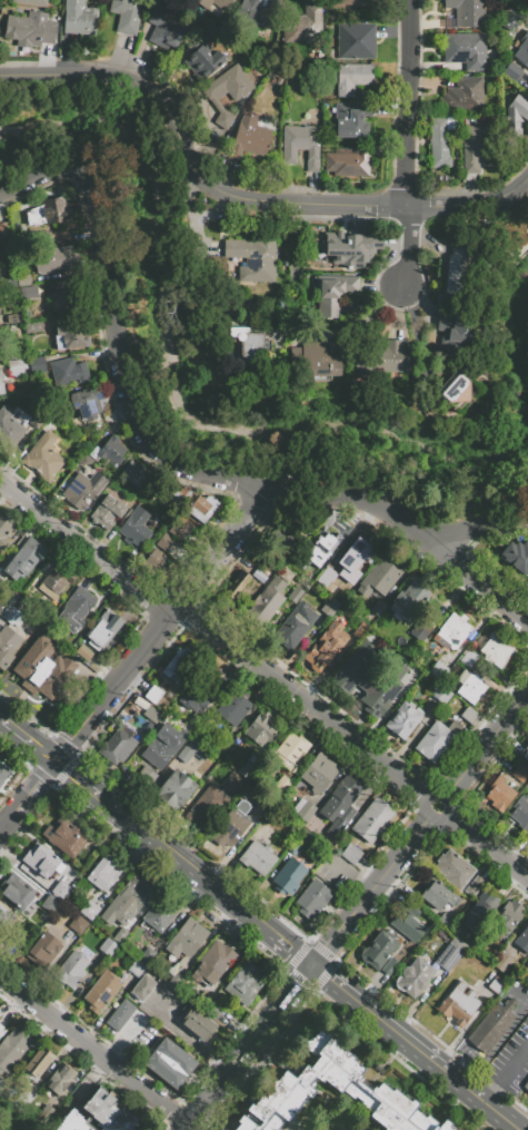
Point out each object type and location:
building: (31, 2)
building: (215, 3)
building: (343, 3)
building: (466, 12)
building: (126, 16)
building: (251, 16)
building: (79, 18)
building: (303, 23)
building: (510, 23)
building: (165, 29)
building: (30, 30)
building: (356, 40)
building: (465, 50)
building: (201, 59)
building: (525, 61)
building: (512, 73)
building: (352, 78)
building: (228, 91)
building: (462, 95)
road: (407, 104)
building: (516, 115)
building: (352, 119)
building: (250, 137)
building: (438, 143)
building: (301, 145)
building: (474, 147)
building: (349, 163)
road: (237, 200)
building: (48, 213)
building: (3, 232)
building: (338, 245)
road: (408, 246)
building: (365, 247)
building: (252, 258)
building: (58, 261)
building: (459, 273)
building: (28, 292)
building: (331, 293)
building: (60, 301)
building: (1, 306)
building: (348, 308)
building: (17, 318)
building: (32, 326)
building: (452, 330)
building: (72, 335)
building: (249, 342)
building: (379, 360)
building: (313, 361)
building: (37, 364)
building: (14, 367)
building: (68, 372)
building: (1, 384)
building: (452, 389)
building: (87, 404)
building: (37, 419)
building: (9, 430)
building: (109, 451)
road: (160, 454)
building: (43, 458)
building: (133, 473)
building: (83, 490)
building: (173, 499)
building: (201, 507)
building: (107, 512)
building: (136, 528)
building: (180, 528)
building: (4, 531)
building: (285, 538)
building: (165, 542)
road: (84, 550)
building: (323, 550)
building: (517, 554)
building: (22, 559)
building: (155, 560)
building: (343, 568)
road: (462, 570)
building: (380, 577)
building: (54, 580)
building: (242, 583)
building: (296, 596)
building: (12, 599)
road: (183, 599)
building: (409, 599)
building: (270, 600)
building: (28, 607)
building: (3, 608)
building: (74, 608)
building: (330, 608)
building: (377, 609)
building: (14, 617)
building: (104, 622)
building: (296, 628)
building: (359, 630)
building: (420, 632)
building: (451, 632)
building: (91, 635)
building: (8, 645)
building: (325, 647)
building: (496, 650)
building: (84, 654)
building: (469, 658)
building: (180, 665)
building: (61, 669)
building: (438, 669)
building: (38, 670)
building: (365, 679)
building: (209, 680)
building: (471, 689)
building: (153, 695)
building: (440, 695)
building: (193, 700)
road: (307, 706)
building: (233, 707)
building: (152, 715)
building: (469, 716)
building: (404, 719)
building: (199, 724)
building: (260, 729)
road: (80, 731)
road: (32, 734)
road: (7, 735)
building: (436, 739)
building: (527, 739)
building: (118, 744)
building: (163, 744)
road: (39, 748)
road: (481, 750)
building: (192, 751)
building: (290, 753)
building: (525, 753)
road: (36, 757)
building: (250, 765)
road: (76, 769)
building: (319, 772)
building: (520, 772)
building: (3, 773)
road: (71, 775)
building: (233, 784)
road: (39, 785)
building: (283, 786)
road: (76, 788)
building: (175, 789)
road: (99, 790)
building: (499, 794)
building: (201, 803)
building: (340, 805)
building: (260, 809)
building: (303, 809)
building: (212, 812)
building: (520, 813)
road: (13, 817)
building: (372, 819)
building: (230, 827)
building: (64, 838)
road: (481, 841)
building: (300, 842)
building: (257, 856)
building: (351, 856)
building: (40, 859)
road: (218, 866)
building: (454, 868)
road: (226, 871)
building: (104, 872)
building: (290, 875)
road: (351, 875)
road: (209, 884)
road: (373, 885)
building: (474, 885)
building: (17, 891)
building: (61, 891)
building: (438, 894)
building: (312, 900)
building: (126, 901)
road: (191, 901)
building: (50, 905)
building: (89, 910)
building: (411, 910)
building: (480, 911)
building: (159, 914)
building: (4, 917)
building: (445, 920)
building: (507, 920)
building: (78, 924)
building: (407, 925)
road: (213, 930)
building: (522, 937)
building: (186, 939)
building: (107, 947)
building: (378, 950)
building: (44, 952)
building: (450, 953)
building: (147, 955)
building: (502, 962)
building: (526, 962)
building: (213, 963)
building: (137, 969)
traffic signals: (315, 969)
building: (71, 970)
building: (414, 976)
building: (245, 983)
building: (495, 985)
building: (142, 989)
road: (372, 990)
building: (102, 992)
road: (520, 996)
building: (206, 1000)
road: (67, 1003)
building: (459, 1003)
road: (13, 1005)
road: (285, 1006)
building: (213, 1012)
building: (0, 1013)
building: (119, 1014)
building: (196, 1022)
road: (96, 1025)
building: (491, 1025)
building: (2, 1030)
road: (465, 1030)
road: (241, 1033)
road: (124, 1035)
road: (189, 1040)
building: (14, 1044)
road: (497, 1045)
road: (96, 1047)
road: (417, 1049)
building: (38, 1063)
building: (169, 1063)
building: (1, 1064)
parking lot: (512, 1064)
road: (515, 1067)
building: (60, 1075)
road: (91, 1077)
road: (223, 1083)
building: (363, 1087)
building: (526, 1088)
road: (494, 1092)
building: (278, 1101)
building: (99, 1114)
building: (3, 1121)
road: (190, 1127)

